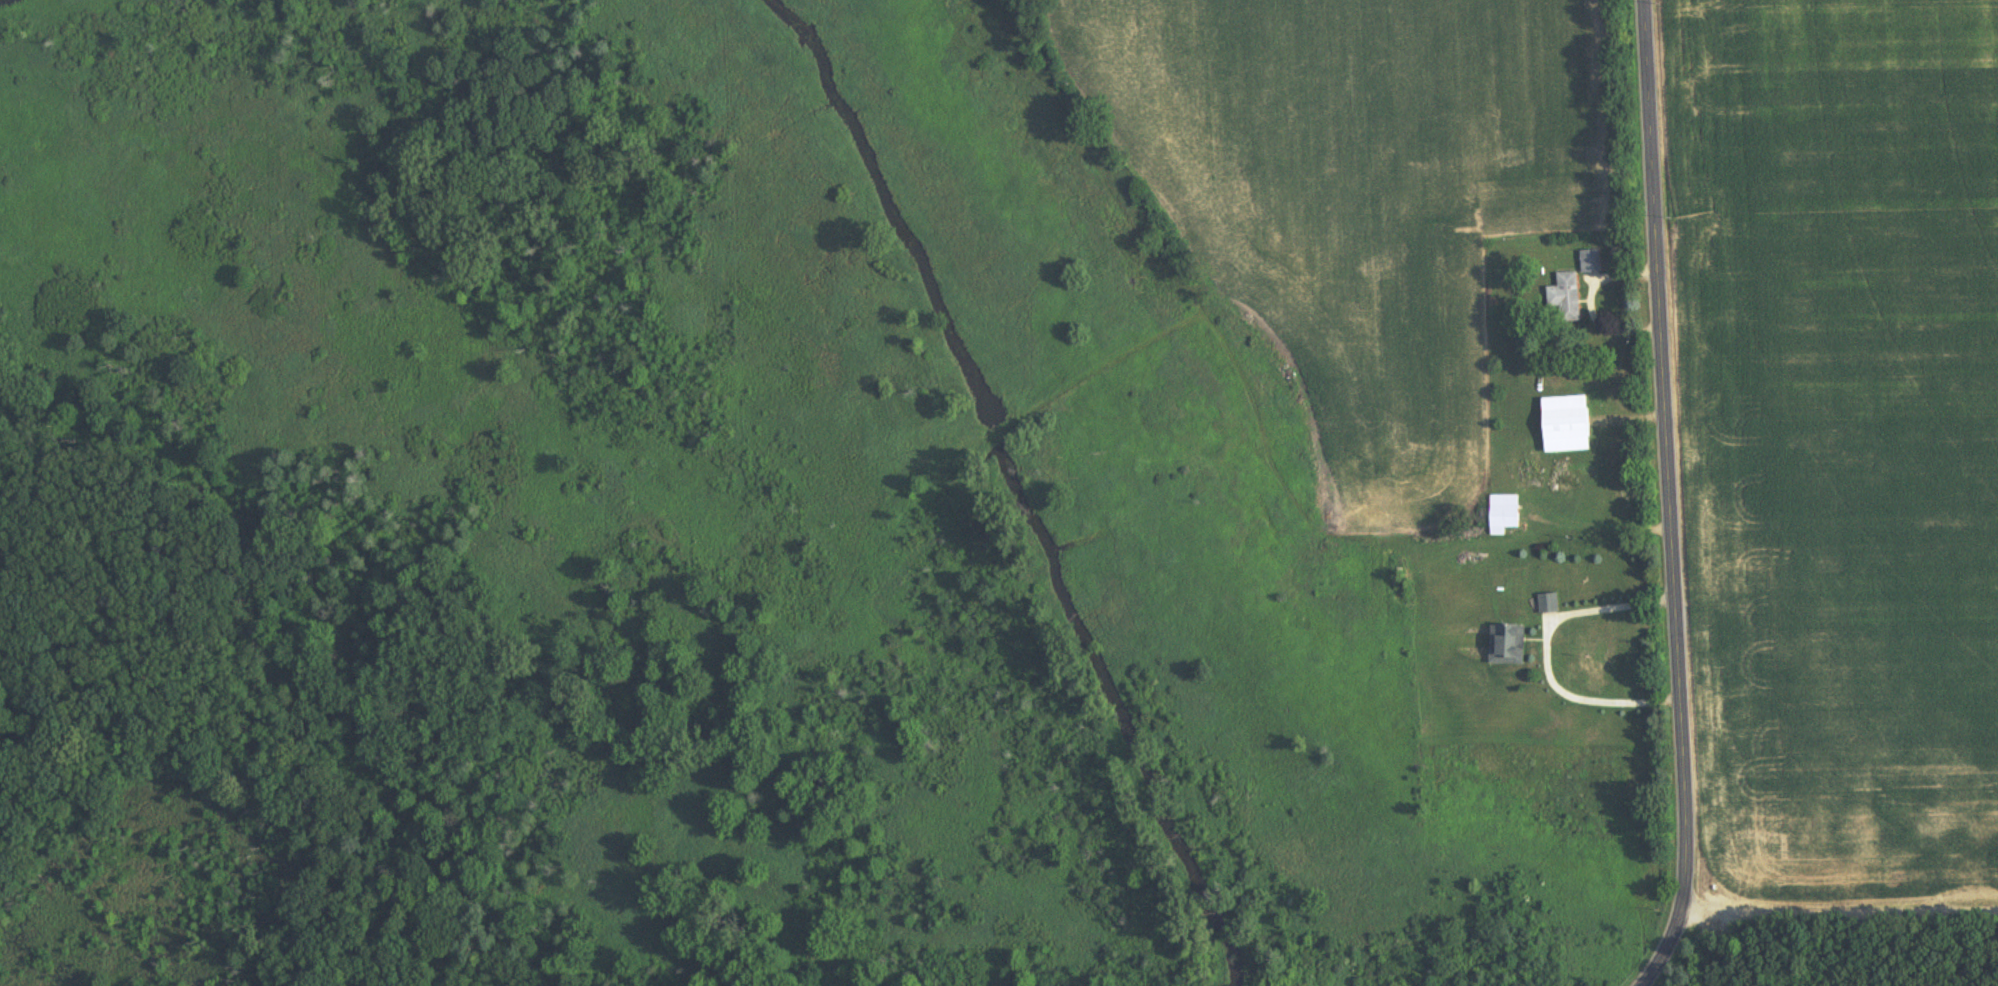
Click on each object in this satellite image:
building: (1591, 262)
building: (1567, 297)
building: (1566, 425)
road: (1669, 500)
building: (1503, 515)
building: (1548, 604)
building: (1507, 645)
road: (1545, 650)
road: (1842, 922)

